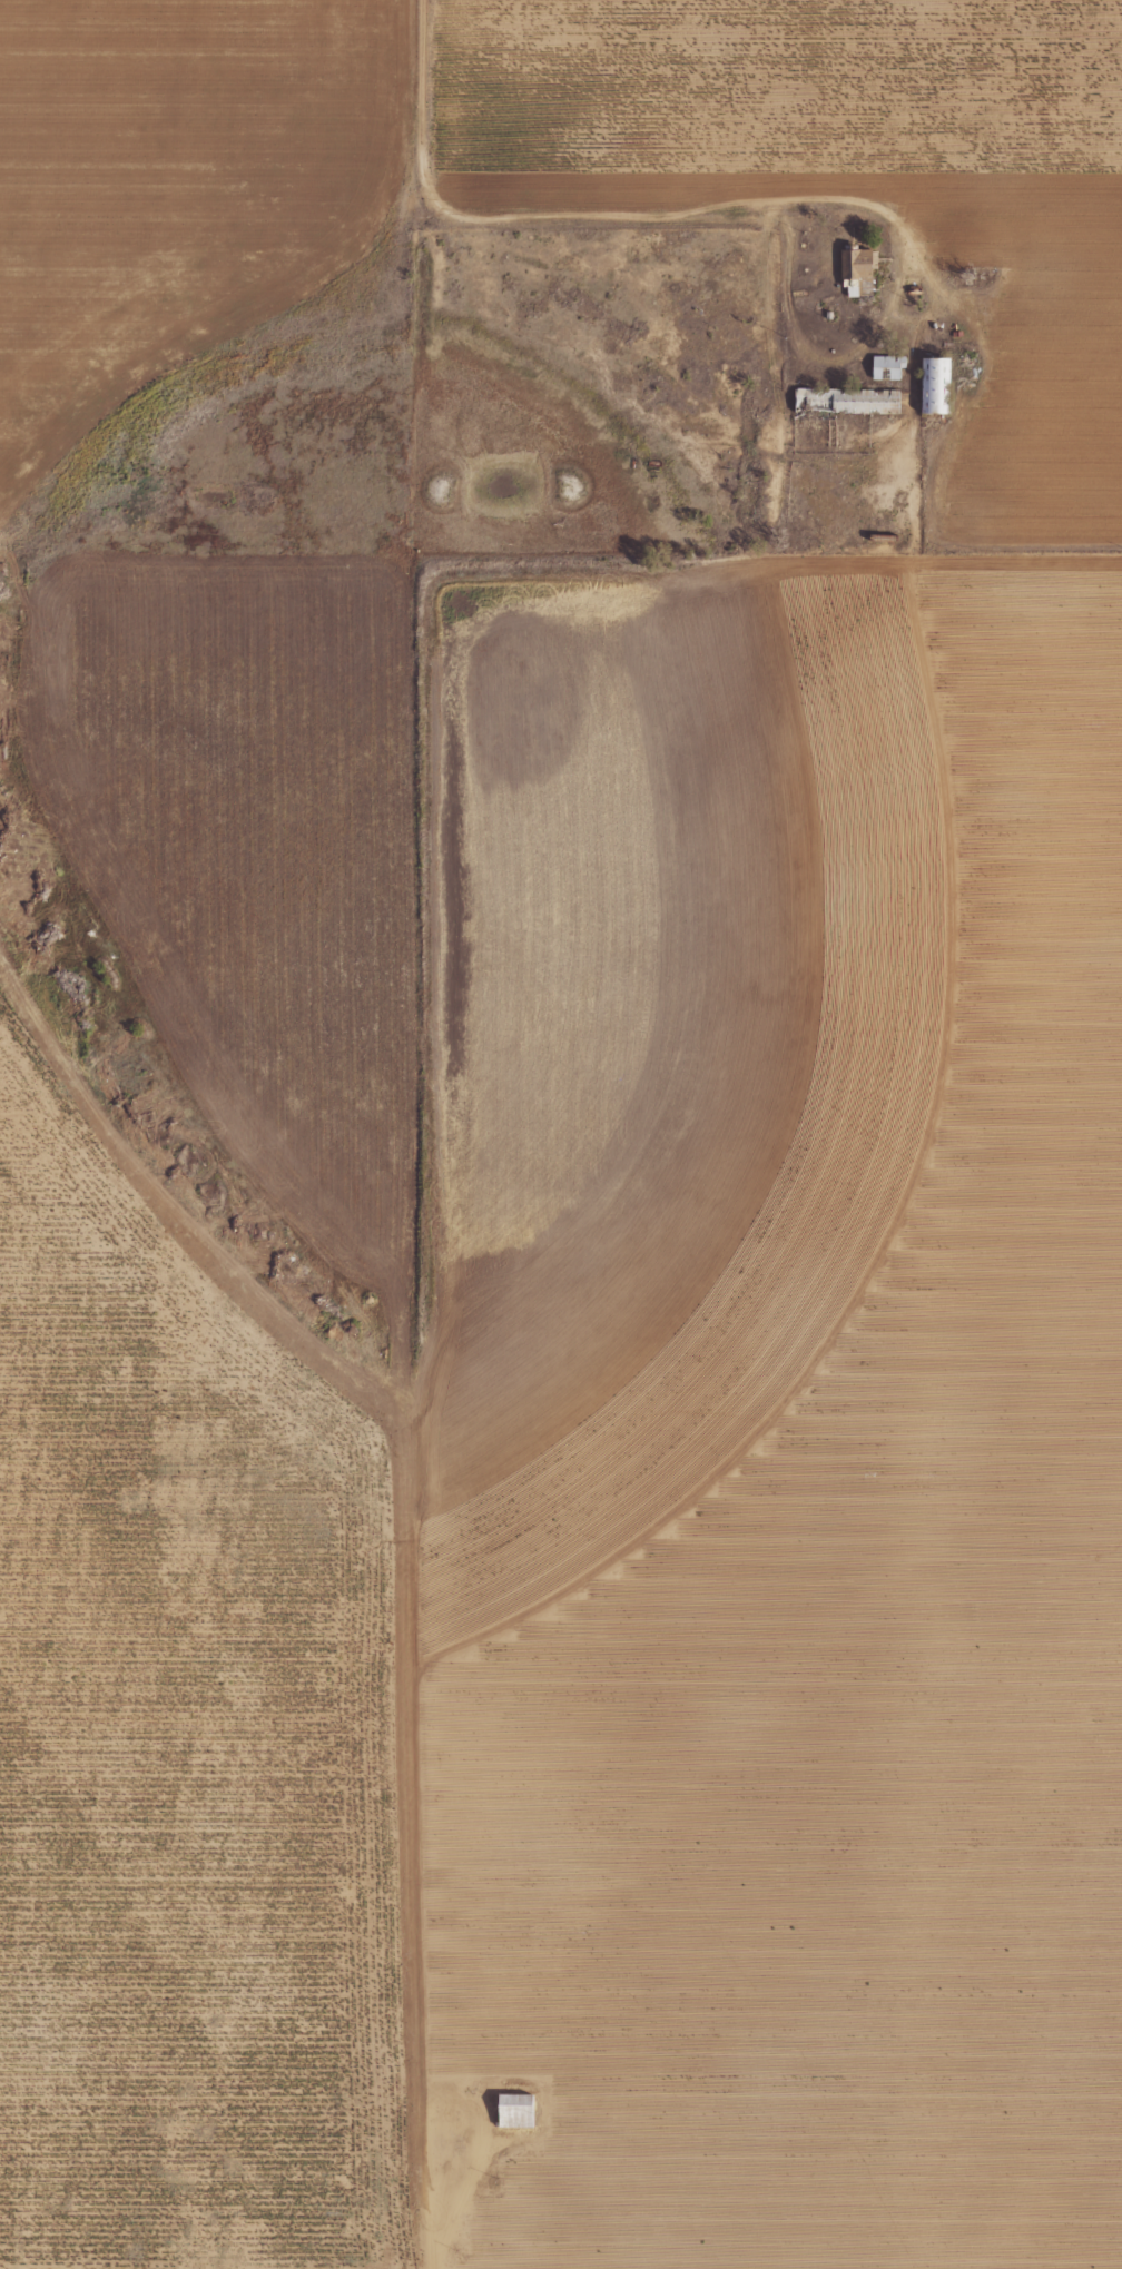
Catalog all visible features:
road: (690, 159)
building: (858, 270)
building: (888, 366)
building: (936, 385)
building: (847, 401)
building: (515, 2112)

